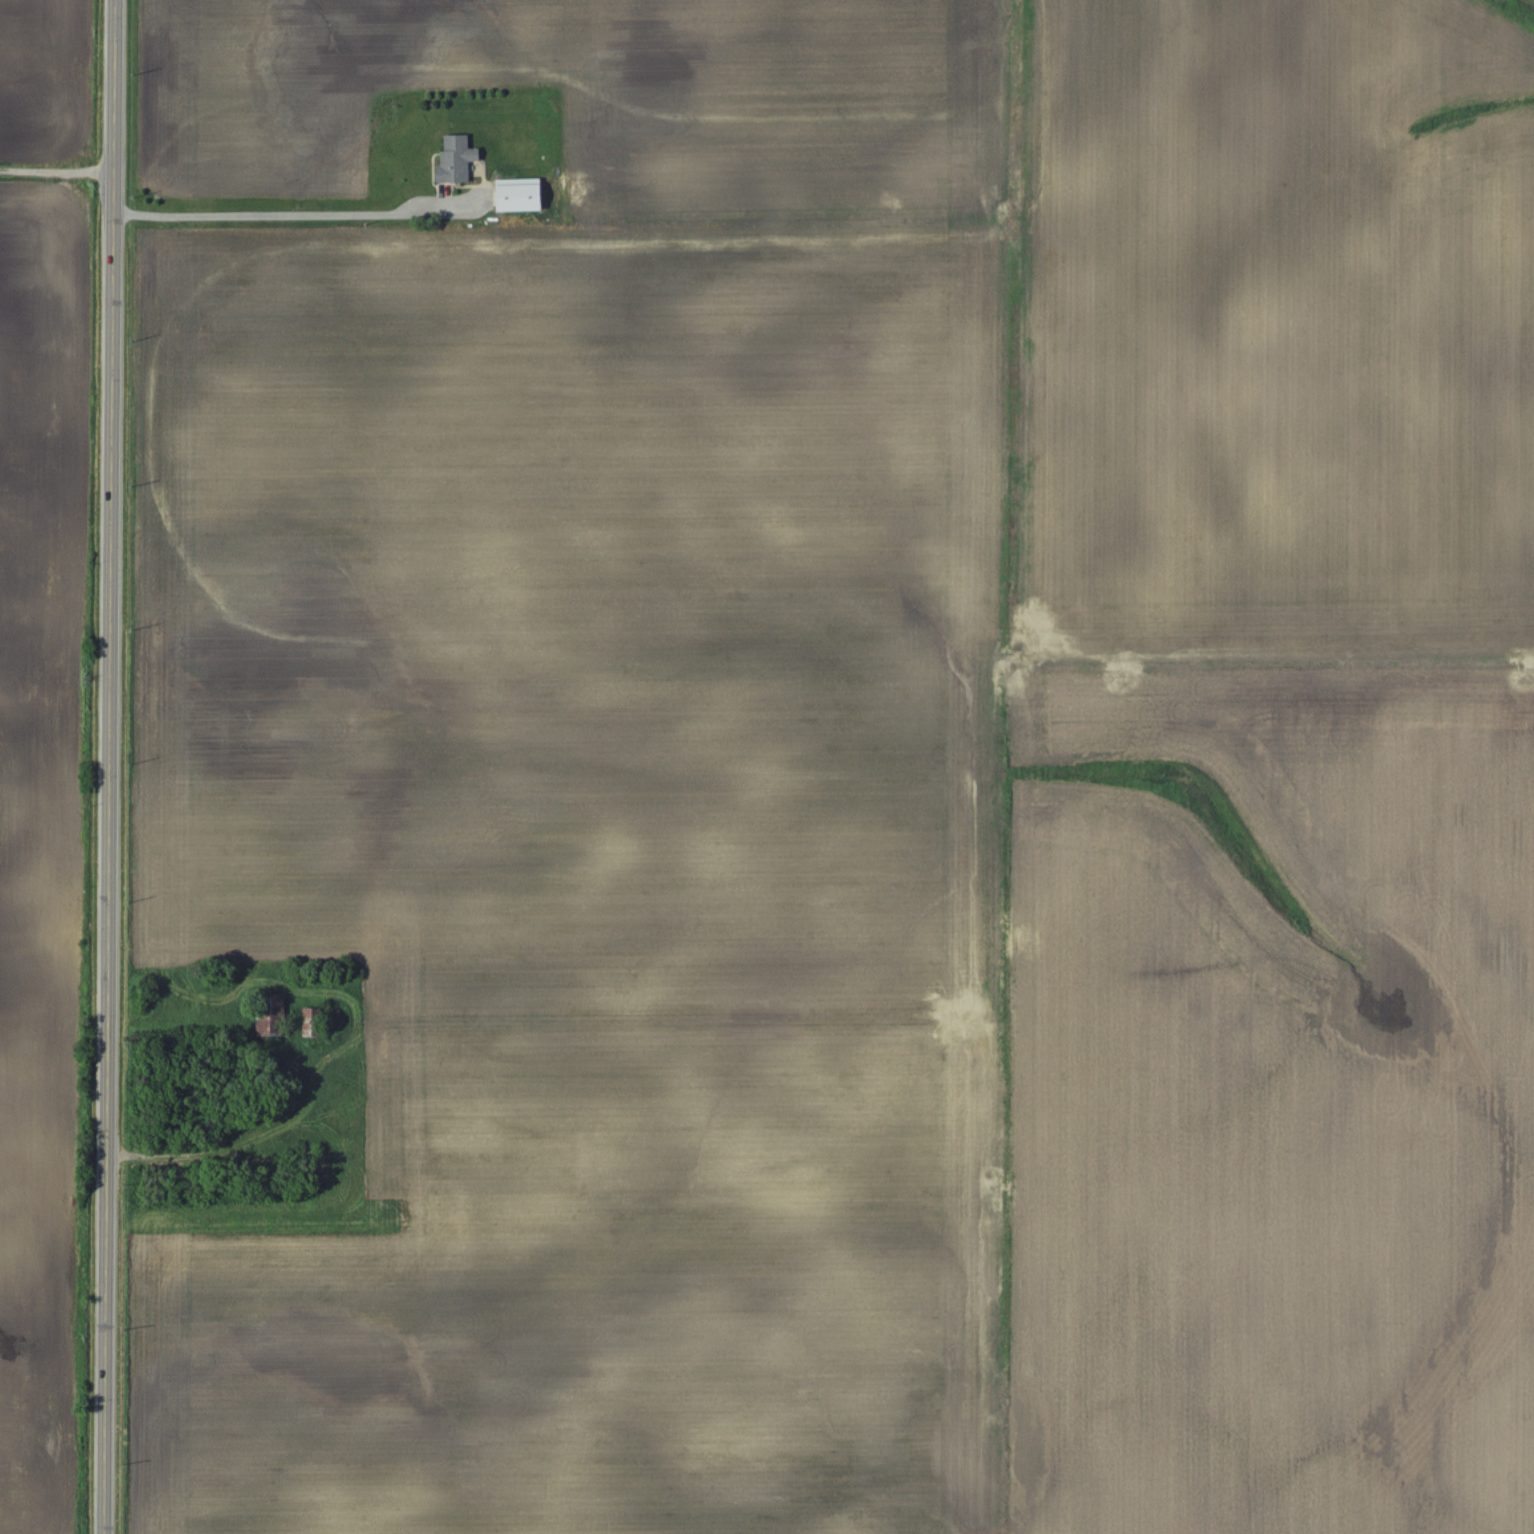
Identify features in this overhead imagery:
building: (458, 161)
road: (57, 163)
building: (522, 196)
road: (295, 218)
road: (108, 766)
building: (314, 1023)
building: (273, 1029)

